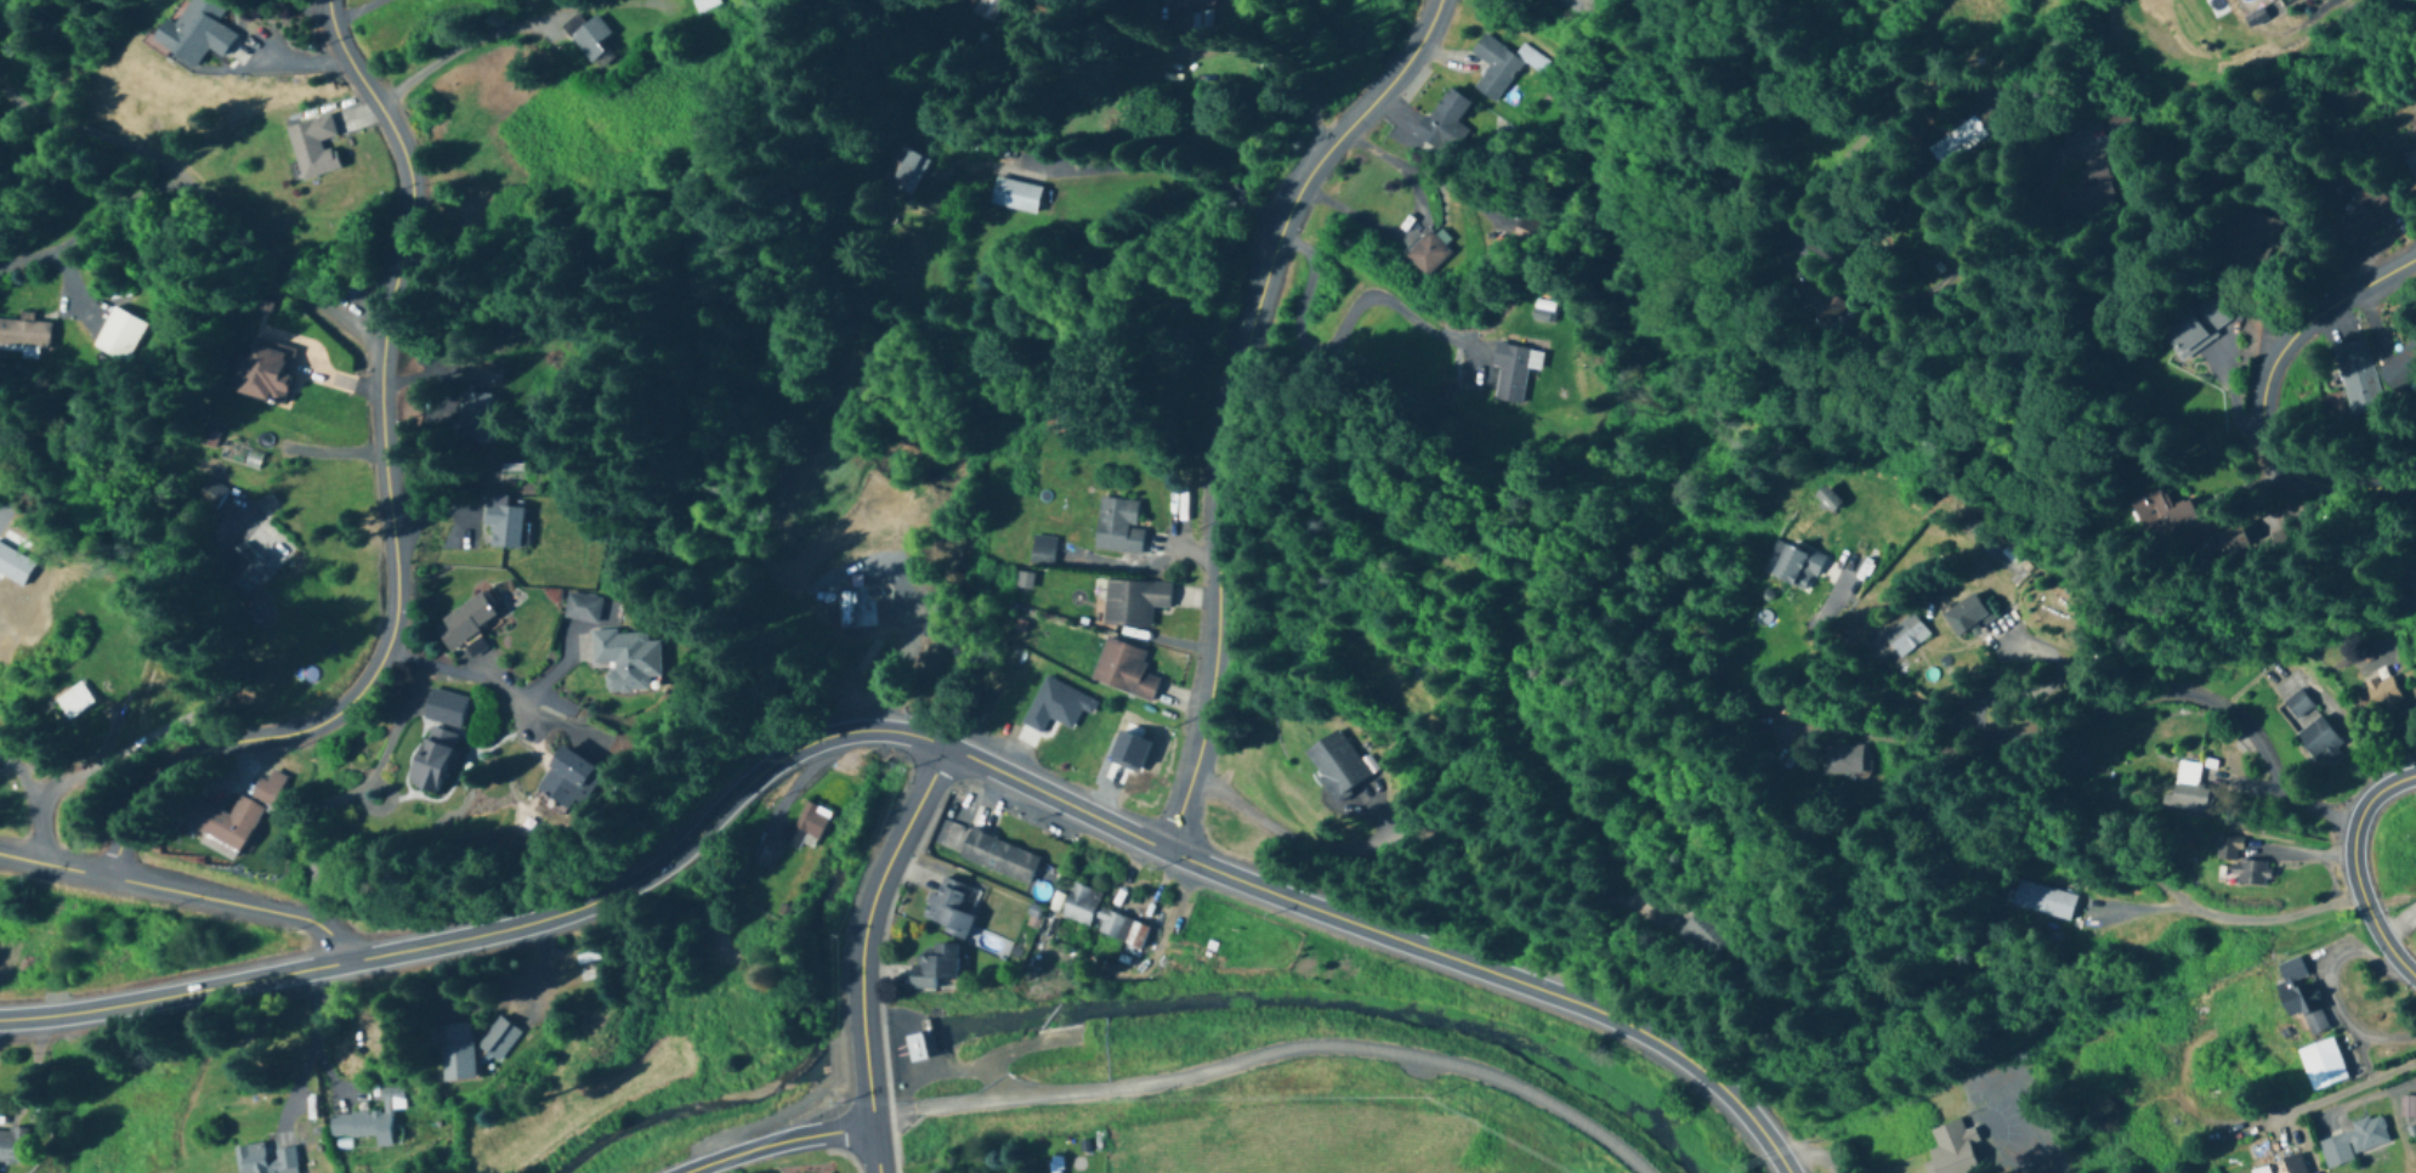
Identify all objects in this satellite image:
building: (699, 5)
building: (1189, 5)
building: (982, 8)
road: (362, 12)
building: (2255, 17)
building: (194, 33)
building: (588, 41)
road: (446, 53)
building: (1502, 66)
road: (1397, 68)
building: (1445, 123)
road: (1871, 131)
building: (1964, 136)
building: (312, 147)
road: (1325, 159)
road: (1121, 161)
building: (2410, 161)
building: (897, 171)
road: (1238, 186)
road: (200, 192)
building: (2089, 193)
building: (1014, 197)
road: (1294, 198)
road: (1267, 199)
building: (2355, 217)
road: (1413, 221)
road: (1280, 226)
building: (1525, 239)
building: (2246, 246)
building: (1427, 255)
road: (1832, 256)
building: (1541, 317)
road: (1339, 319)
building: (2197, 329)
building: (23, 336)
building: (117, 336)
building: (2399, 372)
building: (266, 373)
building: (1513, 373)
building: (2354, 379)
road: (2264, 393)
building: (473, 413)
road: (341, 452)
building: (210, 494)
building: (1827, 499)
road: (393, 510)
building: (2161, 523)
building: (501, 525)
building: (1117, 527)
road: (1212, 546)
building: (1042, 550)
building: (1793, 566)
building: (2408, 567)
building: (246, 568)
building: (1133, 603)
building: (857, 606)
building: (580, 608)
building: (1964, 618)
building: (465, 619)
building: (624, 661)
building: (1124, 670)
road: (465, 673)
building: (2382, 692)
road: (2205, 699)
building: (70, 702)
road: (200, 703)
building: (2297, 704)
building: (444, 709)
road: (1981, 731)
road: (108, 736)
road: (917, 736)
building: (2318, 741)
building: (430, 760)
building: (1841, 763)
building: (1335, 765)
road: (57, 783)
building: (562, 783)
building: (2189, 789)
road: (345, 794)
road: (32, 801)
building: (231, 816)
building: (805, 827)
road: (1306, 845)
building: (998, 857)
building: (2241, 863)
road: (2354, 869)
road: (180, 891)
building: (2048, 902)
building: (952, 908)
building: (1099, 917)
road: (2269, 922)
building: (1708, 939)
road: (863, 950)
building: (934, 969)
road: (2343, 990)
building: (2299, 996)
road: (2386, 1001)
road: (302, 1035)
building: (494, 1039)
building: (918, 1049)
building: (453, 1053)
road: (1269, 1055)
building: (2321, 1065)
road: (2329, 1090)
building: (373, 1126)
road: (2020, 1139)
building: (2350, 1143)
road: (782, 1146)
building: (18, 1150)
building: (1951, 1150)
road: (1809, 1151)
building: (273, 1160)
building: (1055, 1160)
building: (2293, 1164)

